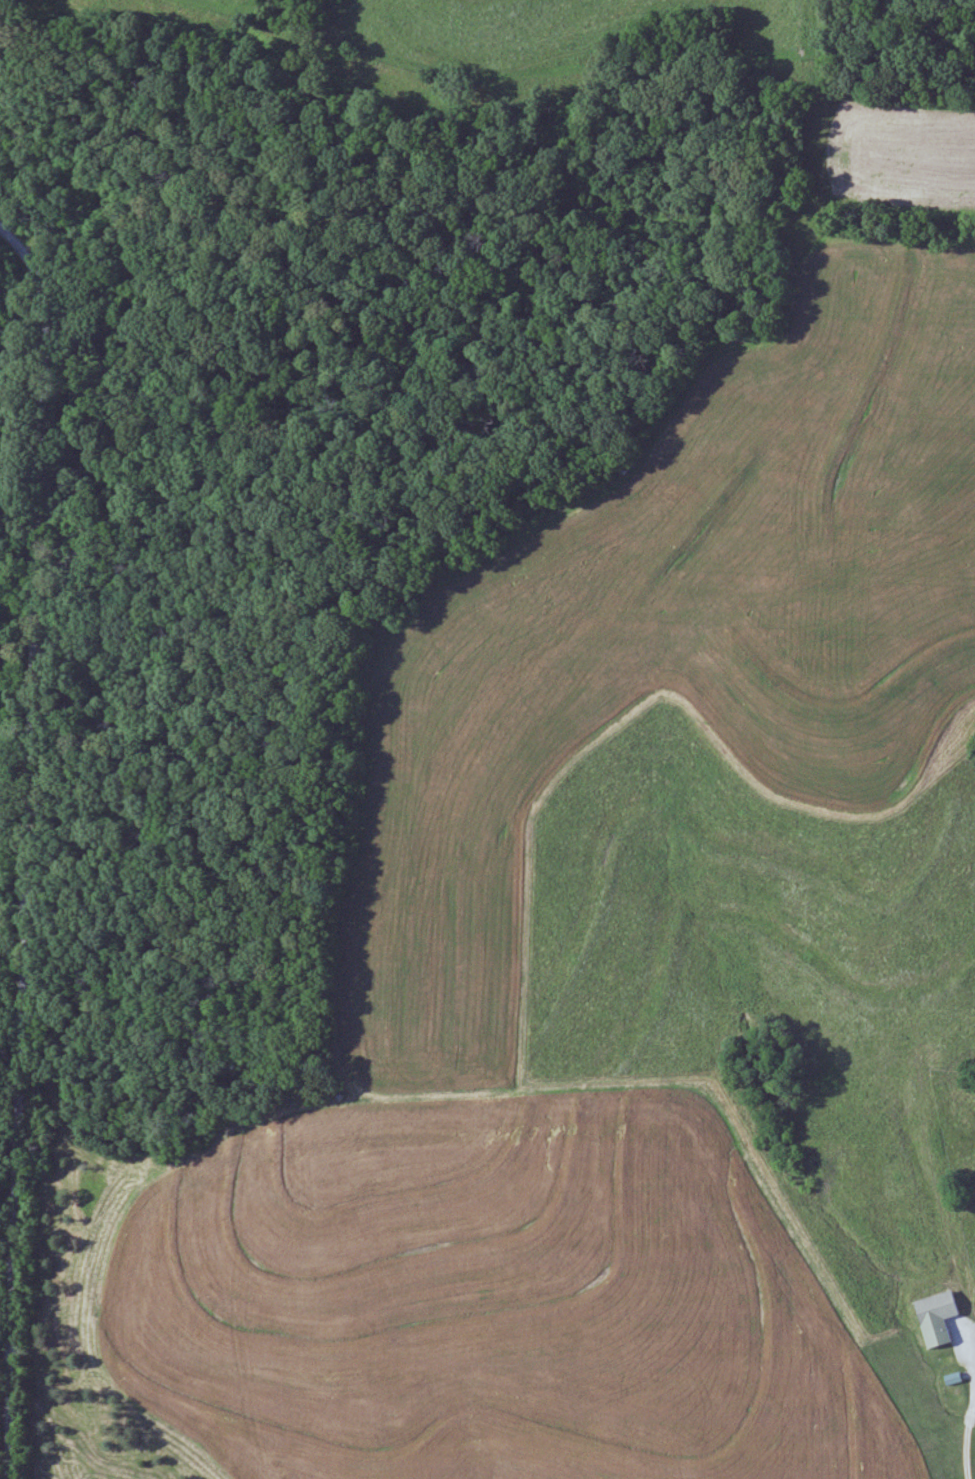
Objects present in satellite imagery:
road: (15, 839)
building: (934, 1318)
road: (971, 1346)
road: (965, 1434)

